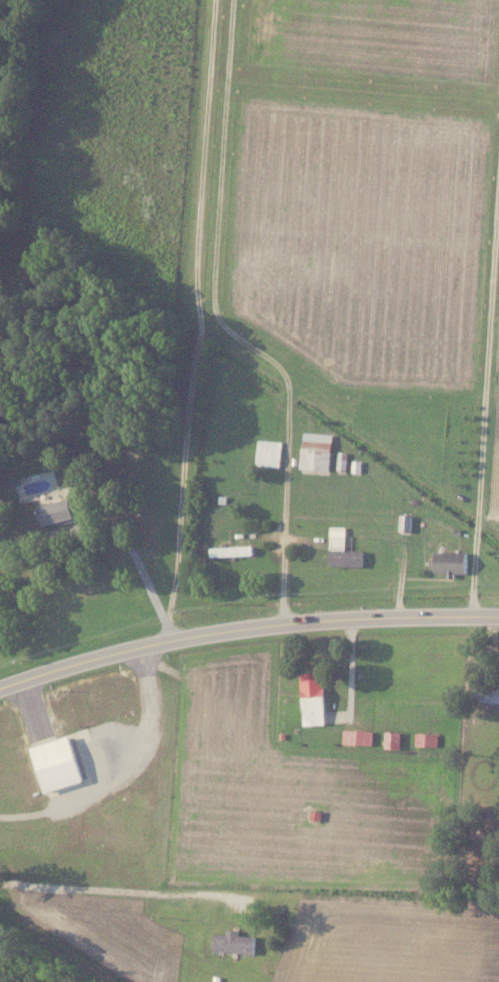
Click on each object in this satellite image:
road: (200, 320)
road: (225, 325)
road: (485, 410)
crop: (493, 432)
building: (117, 437)
building: (319, 449)
building: (270, 451)
building: (344, 459)
building: (359, 465)
building: (226, 499)
building: (67, 510)
road: (114, 510)
building: (407, 522)
road: (260, 534)
building: (234, 550)
building: (345, 550)
building: (452, 562)
road: (402, 578)
road: (246, 627)
road: (351, 665)
building: (488, 694)
building: (316, 698)
road: (33, 709)
building: (360, 736)
building: (429, 738)
building: (395, 739)
building: (58, 763)
parking lot: (105, 764)
road: (127, 773)
building: (319, 814)
road: (111, 889)
crop: (108, 930)
crop: (392, 936)
building: (234, 942)

